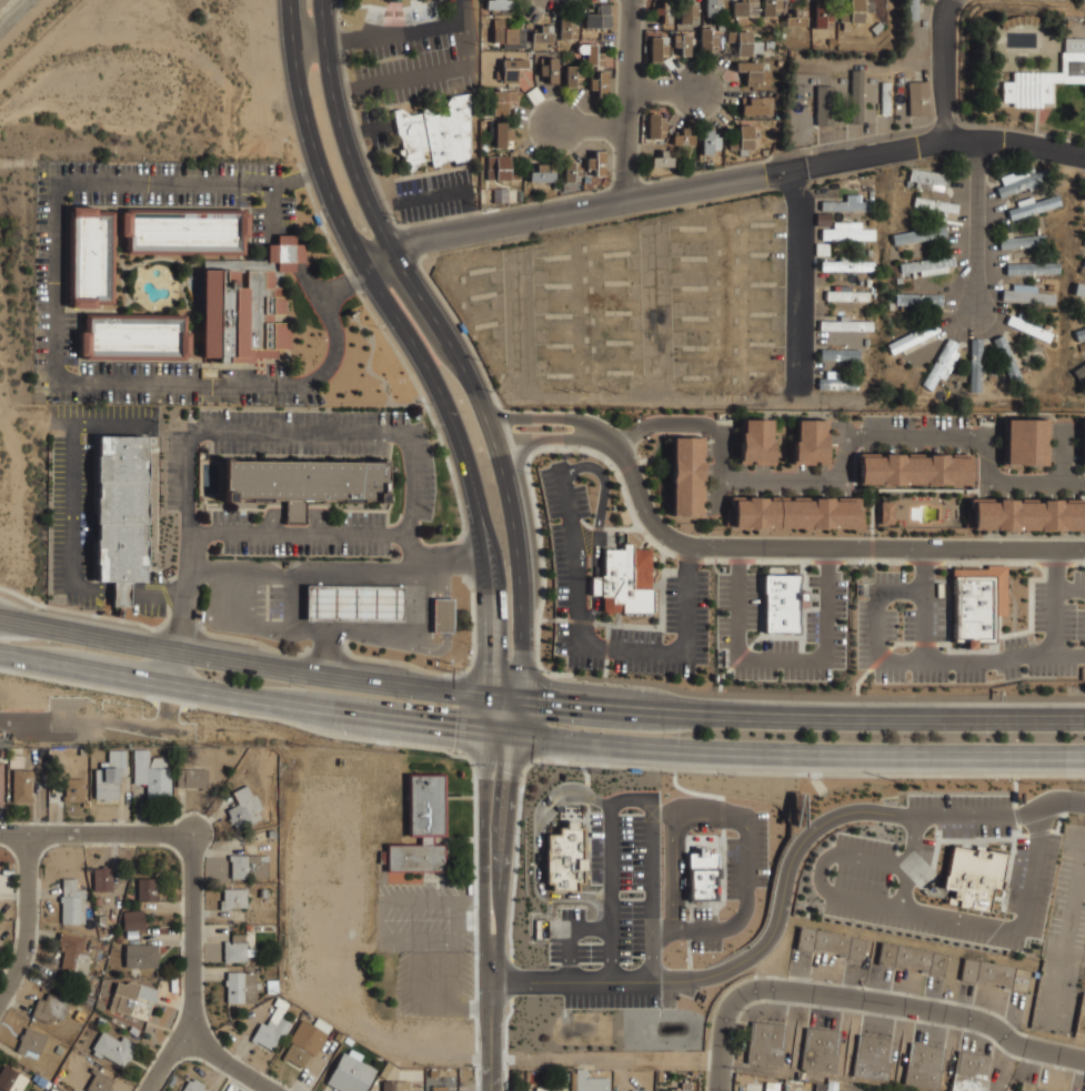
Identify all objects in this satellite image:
building: (394, 0)
building: (499, 4)
building: (712, 7)
building: (771, 7)
building: (744, 10)
building: (912, 10)
building: (686, 11)
building: (664, 12)
building: (856, 12)
building: (821, 16)
building: (599, 17)
building: (795, 20)
building: (876, 28)
building: (566, 29)
parking lot: (416, 31)
road: (422, 31)
building: (508, 34)
building: (542, 36)
road: (325, 39)
building: (706, 41)
building: (744, 42)
building: (682, 43)
building: (768, 46)
building: (657, 48)
building: (590, 53)
road: (877, 61)
building: (780, 62)
road: (943, 68)
building: (511, 70)
building: (550, 70)
building: (754, 73)
building: (571, 75)
road: (415, 78)
parking lot: (416, 78)
building: (1049, 78)
building: (599, 84)
road: (345, 90)
road: (663, 91)
building: (750, 93)
building: (534, 94)
building: (777, 95)
building: (856, 97)
building: (917, 98)
building: (885, 99)
building: (503, 101)
road: (627, 101)
building: (756, 105)
building: (824, 105)
building: (776, 115)
road: (590, 125)
building: (654, 125)
building: (492, 129)
building: (501, 134)
building: (432, 137)
building: (682, 138)
building: (743, 138)
building: (710, 141)
road: (1015, 143)
building: (483, 147)
building: (743, 152)
building: (764, 152)
road: (854, 159)
building: (662, 160)
building: (596, 163)
building: (694, 163)
building: (709, 163)
building: (500, 168)
building: (570, 171)
building: (542, 173)
building: (926, 176)
building: (585, 179)
road: (295, 180)
building: (1023, 182)
building: (555, 186)
road: (441, 195)
building: (500, 195)
parking lot: (435, 198)
building: (934, 204)
building: (847, 205)
building: (1034, 208)
road: (385, 209)
road: (561, 213)
road: (471, 222)
road: (976, 225)
building: (185, 230)
building: (847, 234)
building: (918, 234)
building: (1022, 242)
building: (91, 254)
building: (1084, 263)
building: (926, 264)
building: (847, 265)
building: (1033, 269)
parking lot: (50, 275)
road: (56, 277)
road: (793, 281)
road: (311, 287)
building: (1079, 289)
building: (847, 295)
building: (1028, 296)
building: (917, 300)
building: (244, 314)
building: (846, 325)
building: (1028, 329)
building: (1079, 334)
building: (134, 335)
building: (912, 337)
road: (449, 340)
road: (332, 342)
building: (840, 354)
road: (422, 357)
building: (1008, 362)
building: (940, 364)
building: (975, 365)
building: (1079, 372)
building: (837, 383)
road: (538, 416)
road: (686, 423)
road: (300, 434)
parking lot: (930, 434)
road: (630, 436)
road: (542, 438)
road: (935, 438)
parking lot: (1065, 440)
building: (1026, 441)
road: (1065, 441)
building: (755, 442)
building: (811, 442)
building: (1083, 443)
parking lot: (301, 446)
road: (845, 449)
road: (722, 462)
road: (988, 465)
building: (914, 467)
road: (1065, 472)
building: (687, 475)
parking lot: (714, 476)
building: (304, 481)
road: (731, 481)
road: (791, 481)
parking lot: (794, 481)
road: (1083, 483)
road: (1029, 484)
parking lot: (1031, 485)
parking lot: (90, 508)
building: (796, 511)
road: (73, 512)
building: (887, 512)
building: (121, 513)
building: (1028, 513)
road: (599, 533)
road: (203, 534)
road: (302, 535)
parking lot: (303, 535)
road: (399, 536)
road: (805, 547)
road: (689, 558)
road: (740, 560)
road: (830, 560)
road: (426, 562)
road: (1056, 565)
parking lot: (570, 568)
road: (925, 569)
road: (302, 570)
building: (626, 580)
road: (1071, 592)
road: (173, 593)
road: (182, 597)
building: (354, 600)
building: (978, 600)
building: (784, 604)
parking lot: (903, 613)
building: (444, 616)
road: (1056, 616)
parking lot: (828, 622)
road: (325, 624)
road: (926, 625)
road: (1002, 634)
road: (409, 639)
road: (581, 646)
road: (784, 659)
road: (923, 660)
road: (259, 665)
traffic signals: (488, 695)
road: (243, 696)
traffic signals: (521, 698)
road: (815, 698)
road: (515, 718)
road: (802, 718)
road: (22, 720)
traffic signals: (488, 735)
traffic signals: (511, 738)
building: (82, 751)
building: (1, 752)
road: (785, 756)
building: (16, 761)
building: (151, 774)
building: (110, 775)
building: (192, 778)
building: (1, 784)
building: (21, 785)
building: (73, 789)
road: (634, 799)
building: (243, 808)
parking lot: (968, 814)
road: (833, 819)
road: (710, 821)
road: (1038, 824)
building: (421, 827)
road: (97, 834)
building: (271, 834)
road: (674, 840)
road: (484, 845)
road: (503, 847)
road: (540, 847)
parking lot: (746, 856)
building: (565, 858)
road: (866, 859)
road: (912, 861)
building: (249, 866)
road: (903, 866)
road: (820, 870)
building: (702, 875)
building: (973, 877)
building: (102, 878)
building: (147, 888)
road: (746, 890)
parking lot: (862, 890)
building: (264, 892)
road: (613, 897)
building: (233, 898)
road: (654, 898)
building: (72, 901)
parking lot: (619, 913)
building: (133, 919)
road: (24, 920)
road: (974, 921)
building: (253, 927)
parking lot: (703, 927)
road: (664, 930)
road: (571, 933)
parking lot: (1067, 942)
building: (831, 943)
parking lot: (426, 946)
building: (237, 949)
building: (74, 952)
building: (141, 954)
building: (912, 959)
road: (191, 971)
building: (995, 974)
road: (528, 981)
road: (617, 981)
building: (240, 987)
building: (272, 987)
building: (133, 998)
building: (50, 1006)
road: (940, 1013)
road: (727, 1018)
road: (491, 1022)
building: (272, 1026)
building: (339, 1037)
building: (31, 1041)
building: (348, 1041)
building: (766, 1042)
building: (304, 1043)
building: (113, 1047)
building: (821, 1049)
building: (872, 1055)
road: (230, 1063)
building: (924, 1065)
building: (971, 1071)
building: (350, 1073)
building: (432, 1073)
building: (693, 1073)
building: (659, 1075)
building: (564, 1077)
building: (11, 1079)
building: (99, 1081)
building: (572, 1081)
building: (590, 1082)
building: (194, 1085)
building: (395, 1085)
building: (684, 1087)
building: (439, 1088)
building: (1037, 1088)
building: (549, 1089)
building: (770, 1089)
building: (637, 1090)

